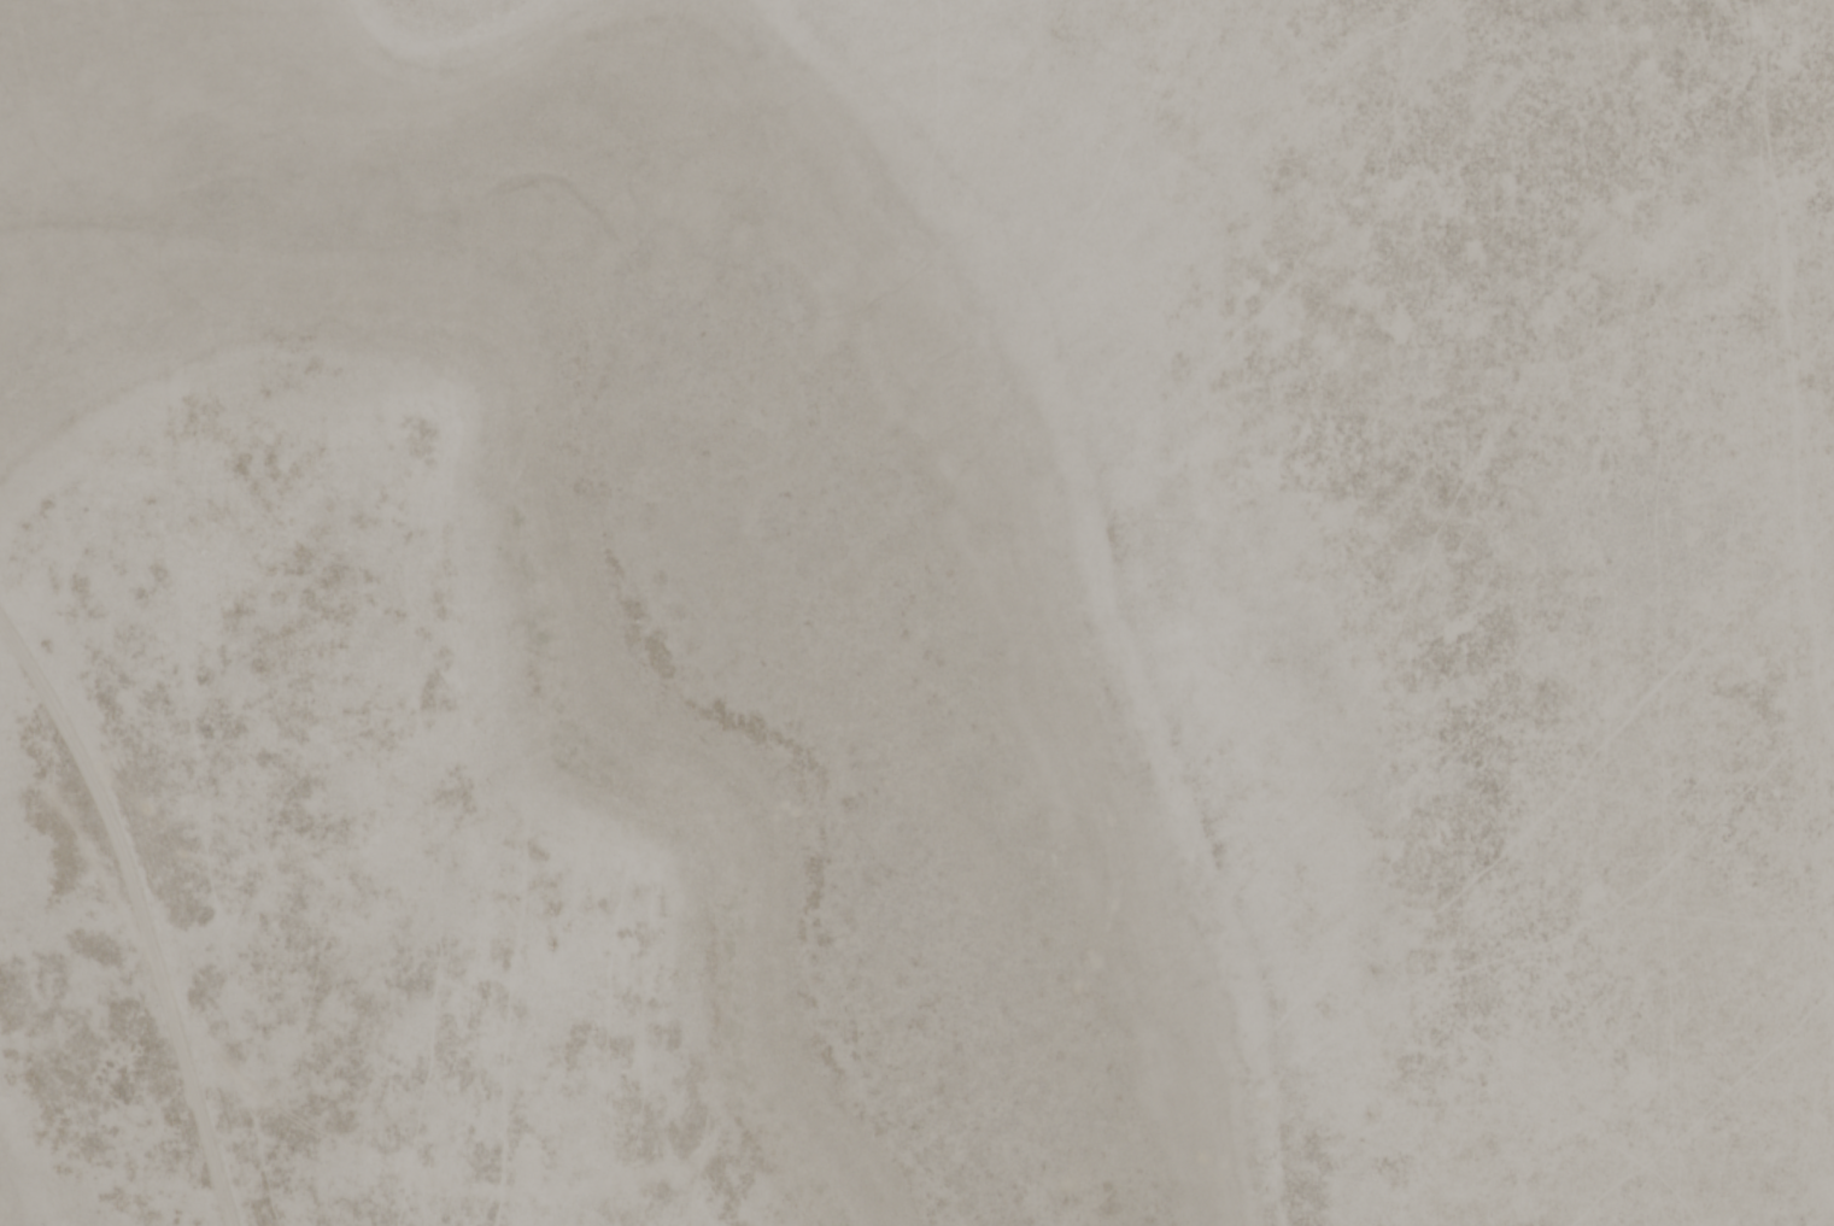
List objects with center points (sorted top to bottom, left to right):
road: (136, 923)

